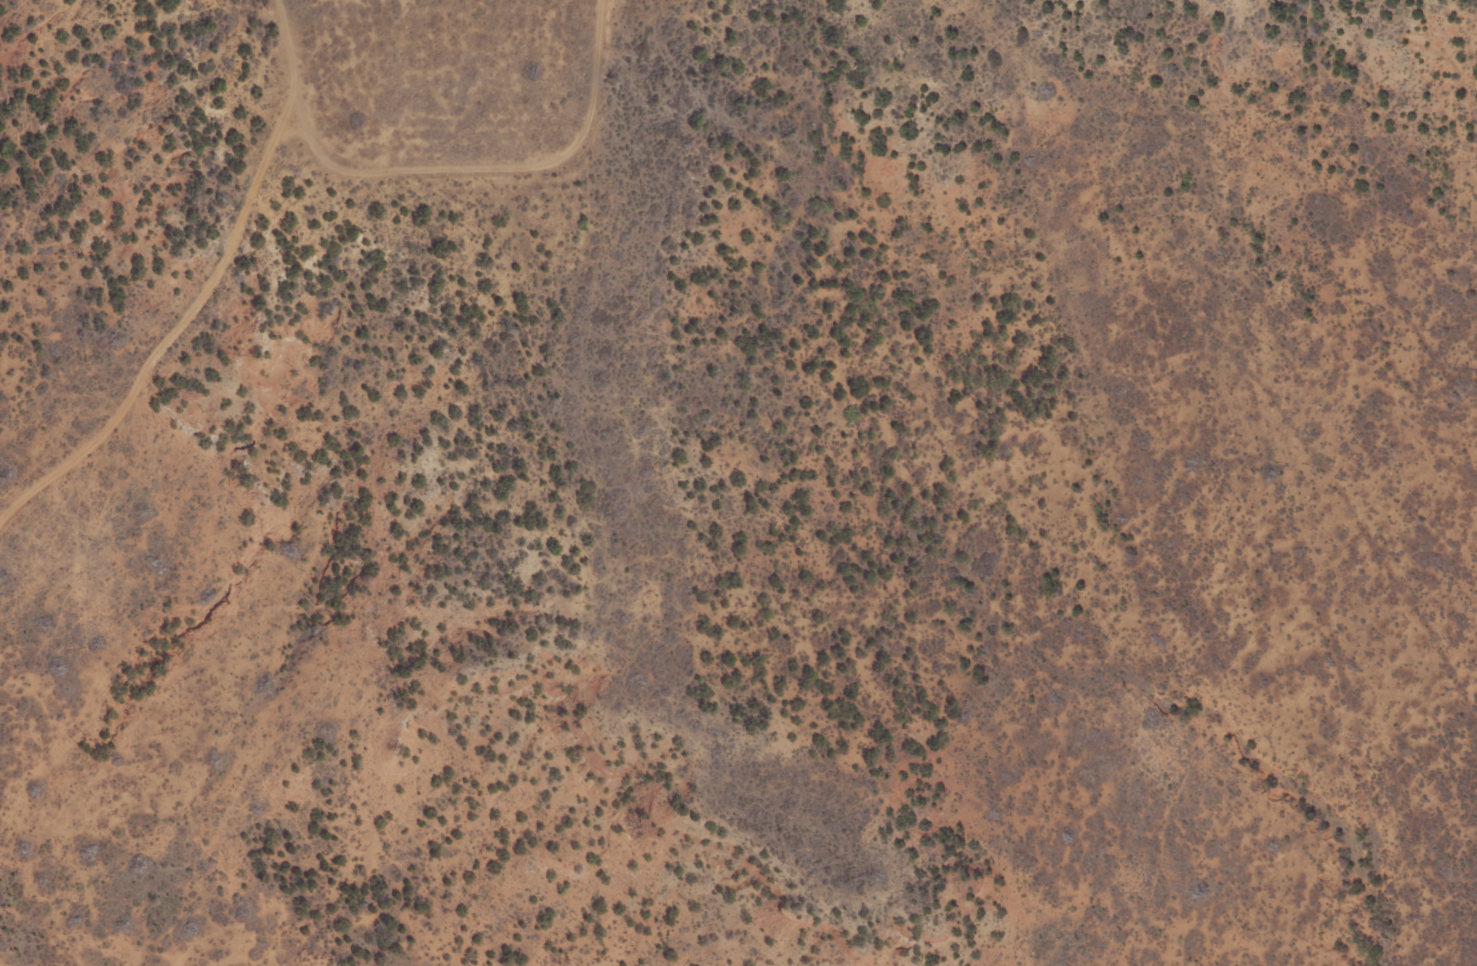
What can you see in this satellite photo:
road: (443, 163)

